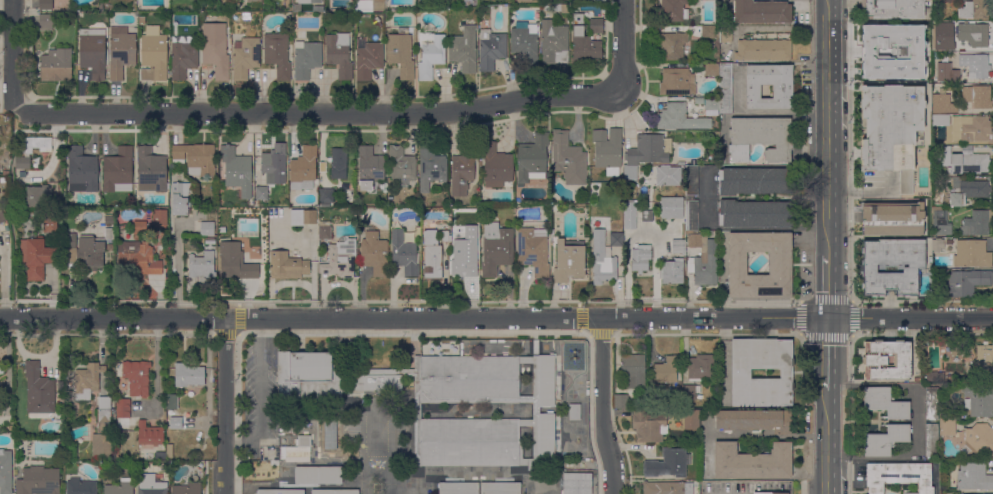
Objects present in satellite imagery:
building: (254, 1)
building: (309, 1)
building: (527, 1)
building: (951, 1)
building: (45, 5)
building: (378, 5)
building: (55, 6)
building: (100, 7)
building: (565, 8)
building: (320, 9)
building: (892, 9)
building: (973, 10)
building: (672, 11)
building: (761, 12)
building: (46, 22)
building: (595, 25)
road: (783, 29)
building: (708, 32)
building: (725, 34)
building: (881, 34)
building: (972, 34)
building: (524, 42)
building: (584, 42)
building: (554, 43)
building: (940, 43)
building: (909, 45)
building: (671, 46)
building: (464, 49)
building: (490, 49)
building: (763, 50)
building: (120, 51)
building: (92, 52)
building: (401, 53)
road: (13, 54)
building: (277, 54)
building: (339, 54)
building: (430, 54)
building: (153, 55)
building: (216, 55)
building: (183, 56)
building: (245, 57)
building: (306, 59)
building: (368, 59)
building: (913, 61)
building: (56, 65)
building: (975, 65)
building: (876, 66)
building: (712, 70)
building: (905, 76)
building: (952, 76)
building: (677, 82)
building: (725, 89)
building: (782, 92)
building: (977, 96)
building: (943, 103)
building: (711, 106)
road: (361, 113)
building: (679, 118)
building: (939, 120)
road: (826, 126)
building: (971, 129)
building: (891, 130)
building: (760, 138)
building: (34, 144)
building: (607, 150)
building: (649, 150)
building: (941, 156)
building: (195, 159)
building: (568, 159)
building: (22, 162)
building: (532, 162)
building: (968, 163)
building: (338, 164)
building: (402, 165)
building: (431, 165)
building: (274, 166)
building: (496, 166)
building: (369, 167)
building: (151, 169)
building: (303, 169)
building: (81, 170)
building: (118, 170)
building: (236, 170)
building: (461, 172)
building: (630, 172)
building: (667, 176)
building: (691, 180)
building: (756, 180)
building: (966, 191)
building: (261, 193)
building: (326, 195)
building: (36, 196)
road: (707, 197)
building: (180, 198)
building: (671, 207)
building: (630, 214)
building: (755, 214)
building: (2, 216)
building: (646, 216)
building: (691, 216)
building: (159, 217)
building: (308, 217)
building: (892, 218)
building: (109, 220)
building: (977, 222)
building: (49, 223)
building: (940, 224)
building: (140, 227)
building: (207, 229)
building: (324, 230)
building: (444, 236)
building: (694, 240)
building: (209, 241)
building: (937, 245)
building: (678, 246)
building: (85, 247)
building: (110, 247)
building: (496, 248)
building: (533, 251)
building: (374, 253)
building: (403, 253)
building: (971, 253)
building: (431, 255)
building: (36, 257)
building: (137, 258)
building: (340, 258)
building: (605, 258)
building: (640, 258)
building: (569, 261)
building: (234, 262)
building: (780, 262)
building: (201, 264)
building: (287, 265)
building: (704, 265)
building: (867, 266)
building: (463, 267)
road: (177, 269)
building: (671, 271)
road: (3, 275)
building: (967, 281)
road: (827, 285)
road: (579, 317)
traffic signals: (827, 317)
road: (496, 318)
road: (237, 319)
road: (413, 331)
road: (600, 334)
building: (956, 350)
road: (826, 354)
building: (983, 357)
building: (887, 360)
building: (700, 367)
building: (1, 368)
building: (666, 369)
building: (632, 370)
building: (740, 374)
building: (188, 375)
building: (307, 376)
building: (931, 376)
building: (136, 377)
building: (469, 379)
building: (87, 380)
building: (546, 381)
building: (377, 383)
building: (2, 388)
building: (689, 392)
building: (39, 393)
building: (978, 400)
building: (172, 401)
building: (620, 401)
building: (884, 402)
building: (931, 403)
road: (224, 406)
road: (601, 406)
building: (535, 410)
building: (417, 411)
building: (574, 412)
building: (122, 415)
building: (691, 420)
building: (753, 420)
building: (947, 420)
building: (176, 424)
building: (648, 426)
building: (947, 429)
building: (102, 430)
building: (330, 434)
building: (148, 436)
building: (546, 437)
building: (980, 439)
building: (884, 440)
building: (931, 440)
building: (303, 441)
building: (469, 442)
road: (825, 442)
building: (71, 451)
building: (169, 451)
building: (294, 454)
building: (160, 455)
building: (183, 456)
road: (904, 460)
building: (752, 461)
building: (667, 464)
building: (5, 472)
building: (318, 475)
building: (898, 476)
building: (973, 477)
building: (38, 481)
building: (576, 483)
building: (150, 485)
building: (80, 486)
building: (119, 487)
building: (458, 488)
building: (500, 488)
building: (666, 488)
building: (186, 489)
building: (279, 491)
building: (334, 492)
building: (770, 493)
building: (961, 493)
building: (987, 493)

